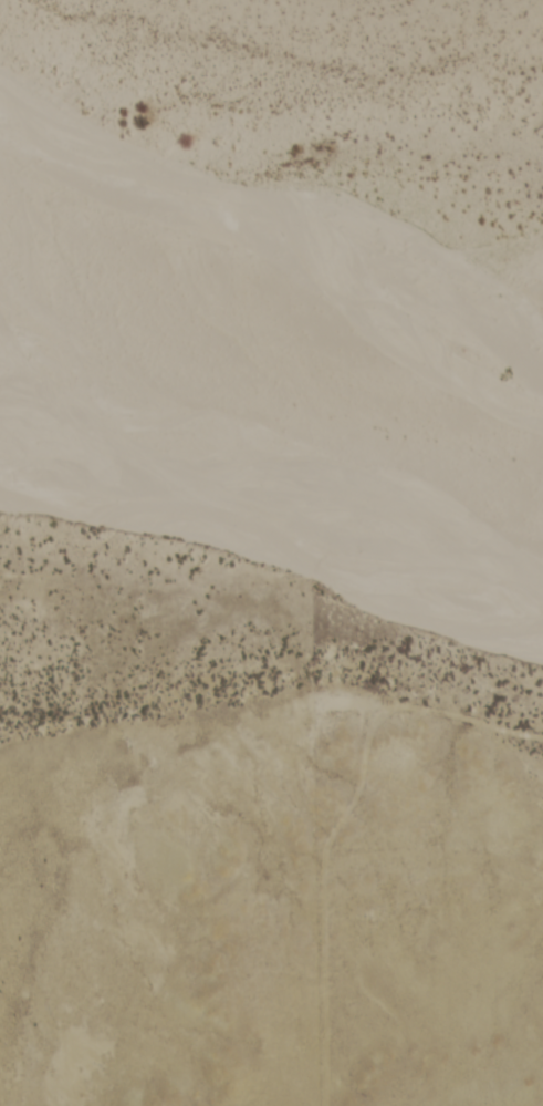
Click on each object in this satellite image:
river: (278, 548)

